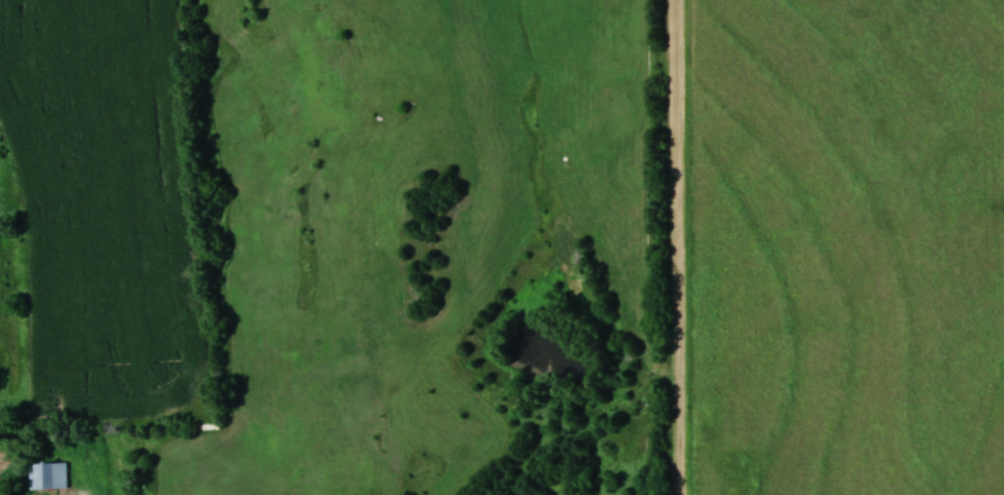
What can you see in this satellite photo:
crop: (113, 198)
road: (681, 247)
building: (48, 474)

